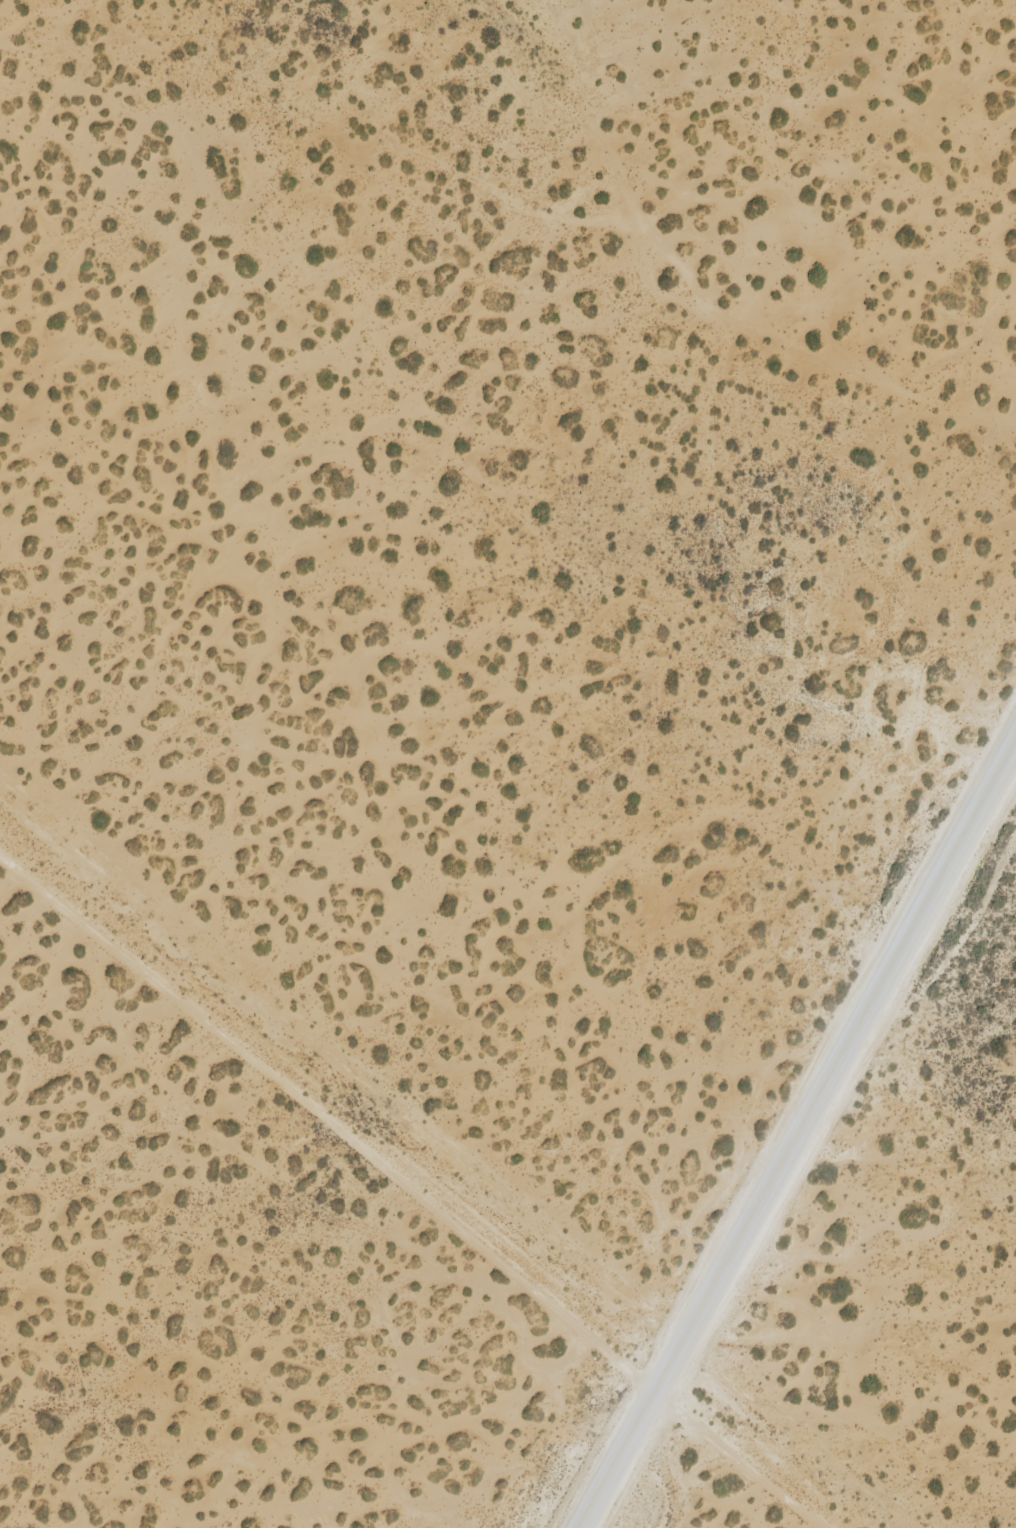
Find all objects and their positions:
road: (796, 1134)

